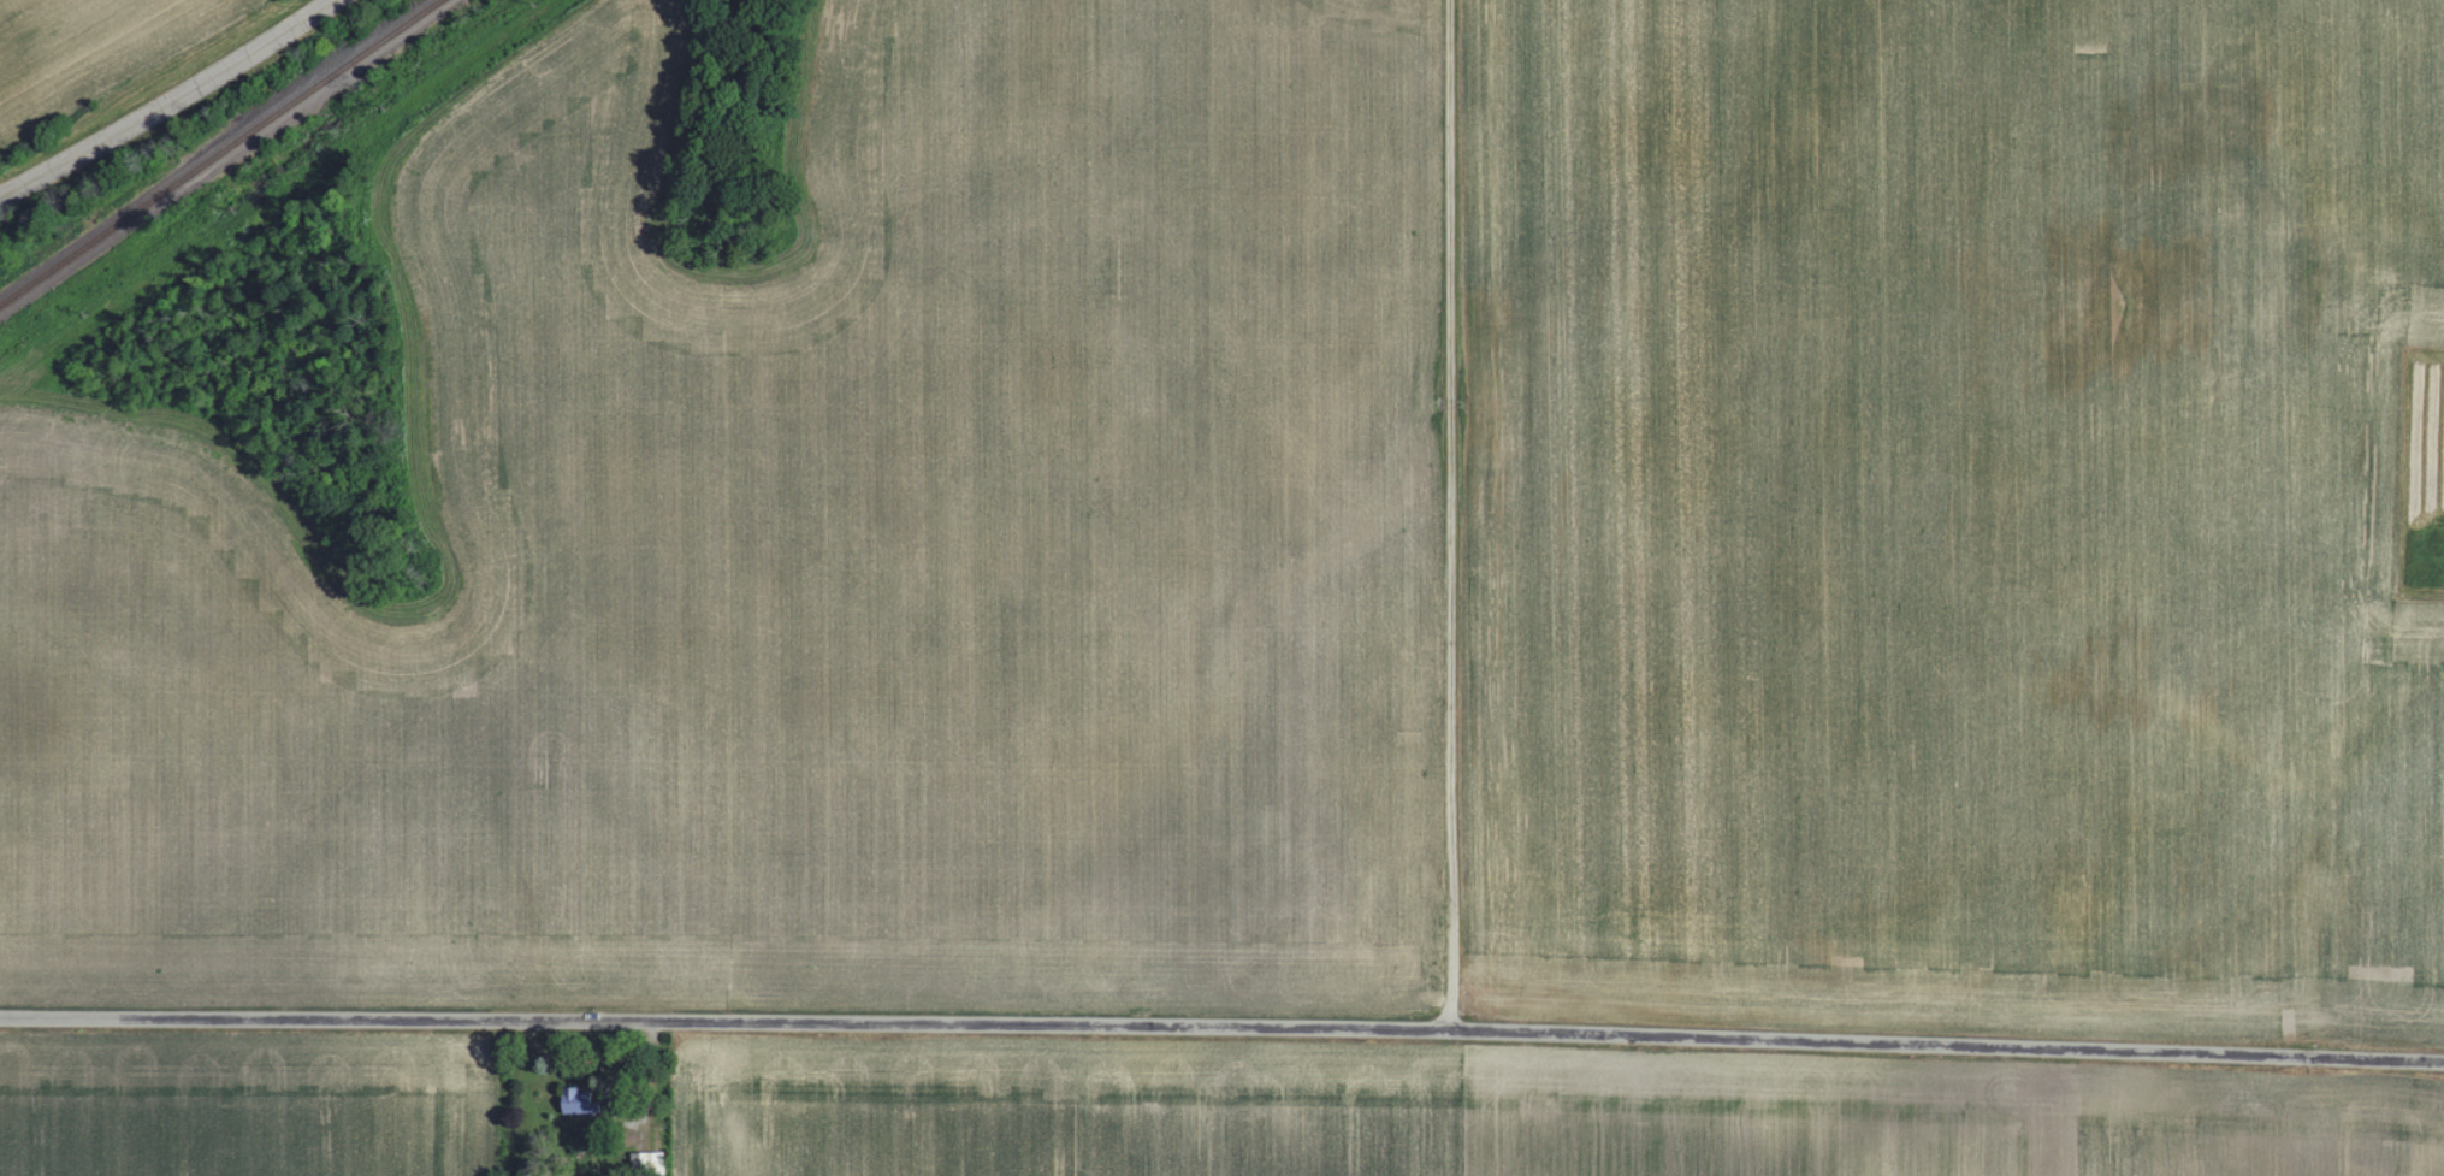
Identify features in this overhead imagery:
road: (168, 102)
railway: (224, 153)
road: (1455, 516)
road: (1221, 1029)
building: (582, 1100)
building: (650, 1159)

